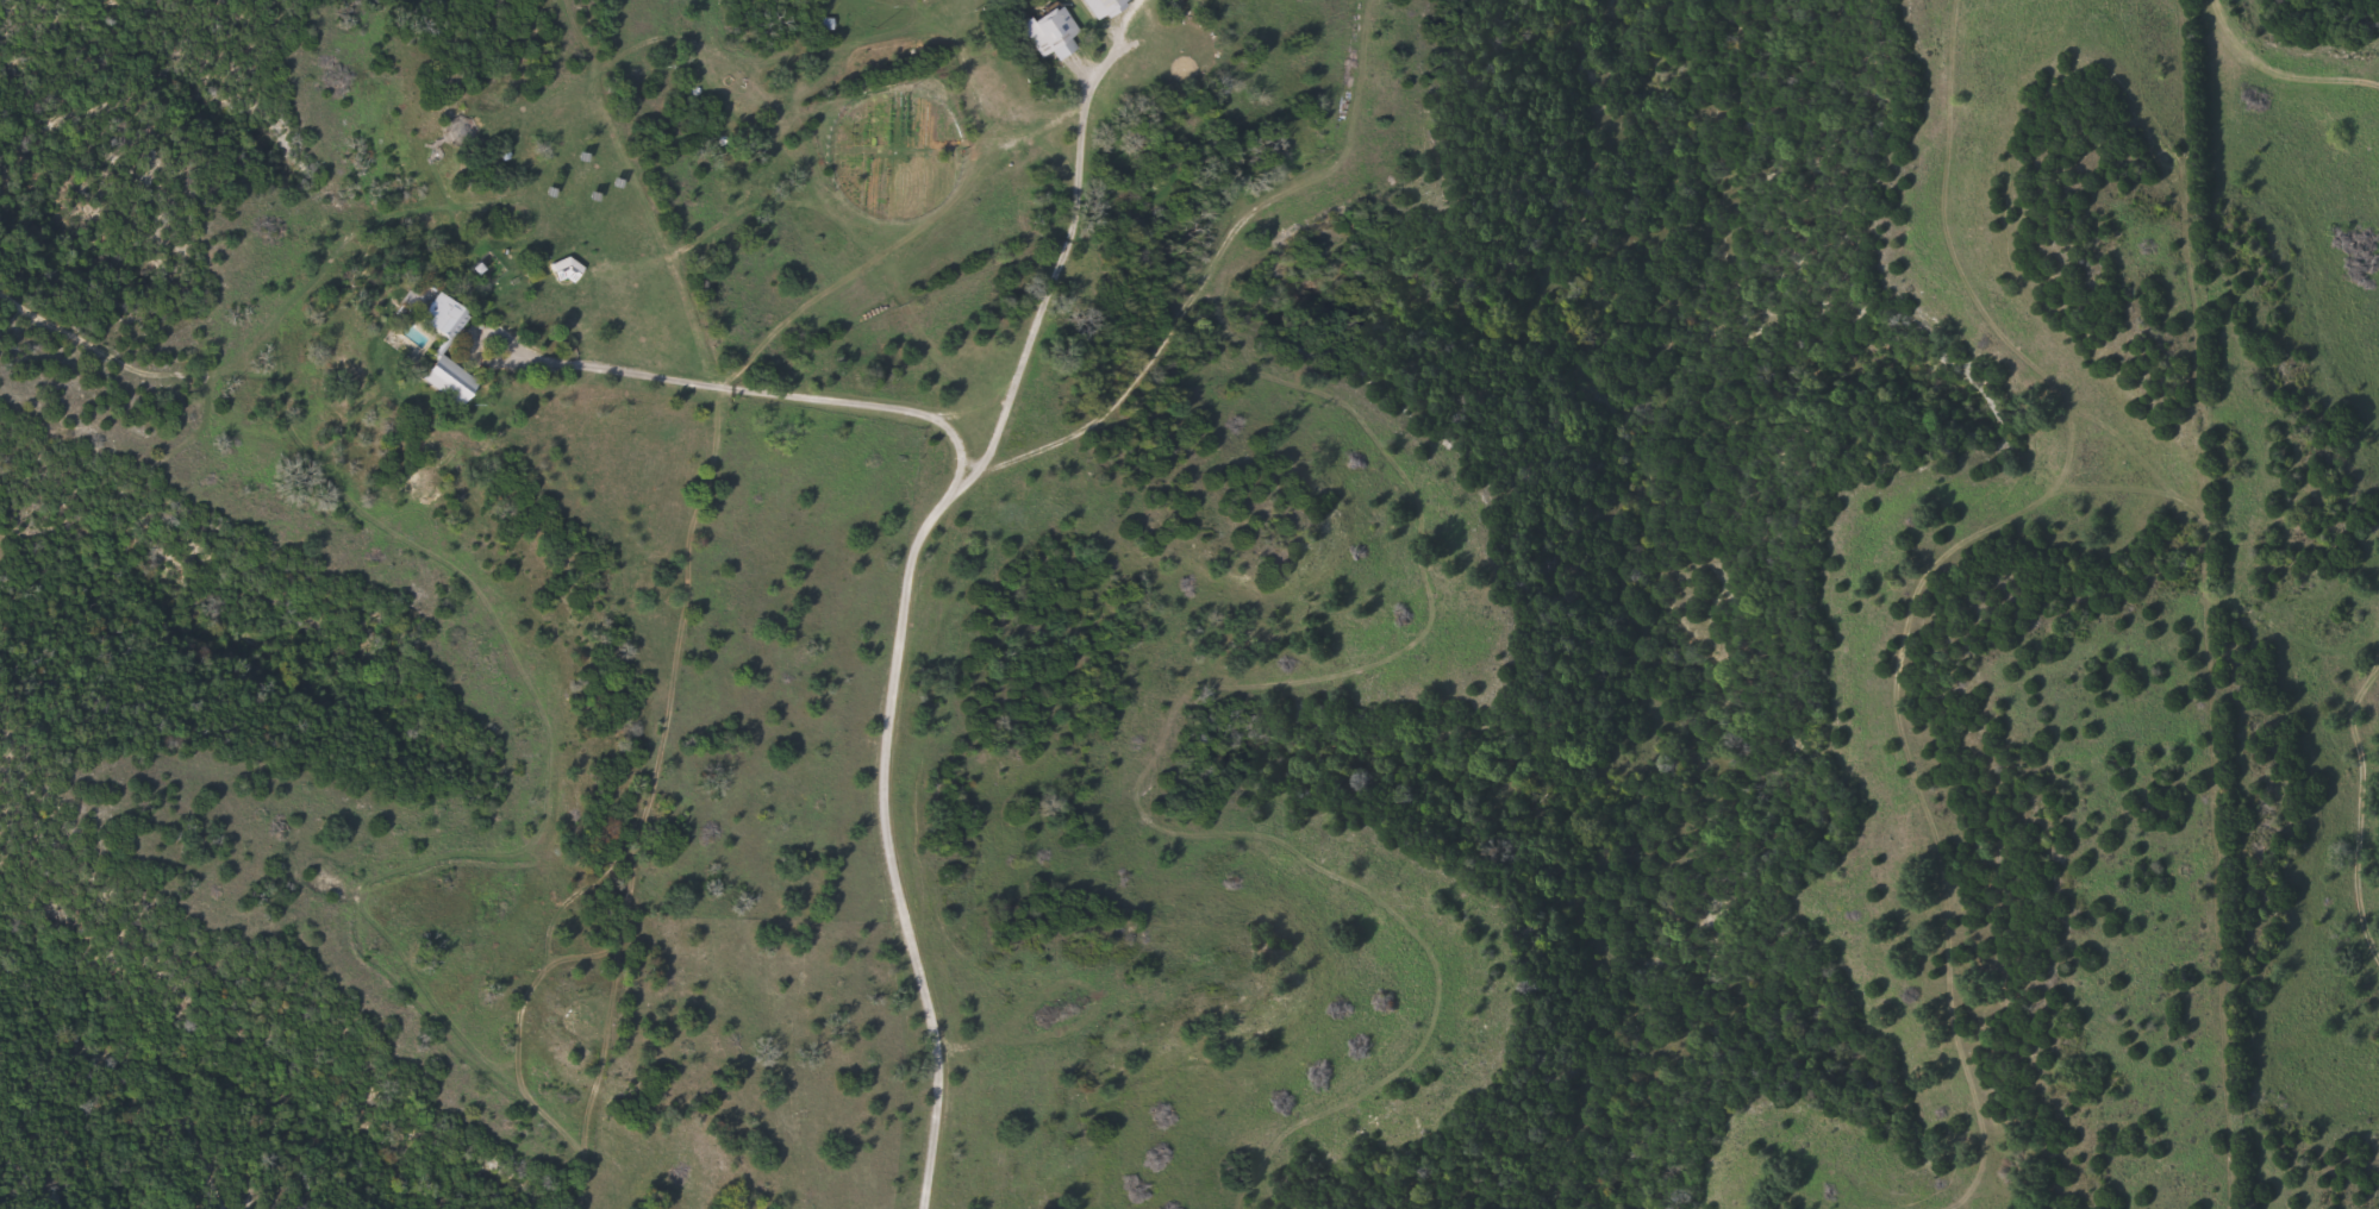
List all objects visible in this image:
building: (1099, 6)
building: (828, 24)
building: (1050, 30)
park: (1280, 150)
building: (569, 269)
building: (443, 317)
road: (69, 330)
building: (449, 380)
road: (776, 393)
road: (899, 639)
road: (166, 1066)

